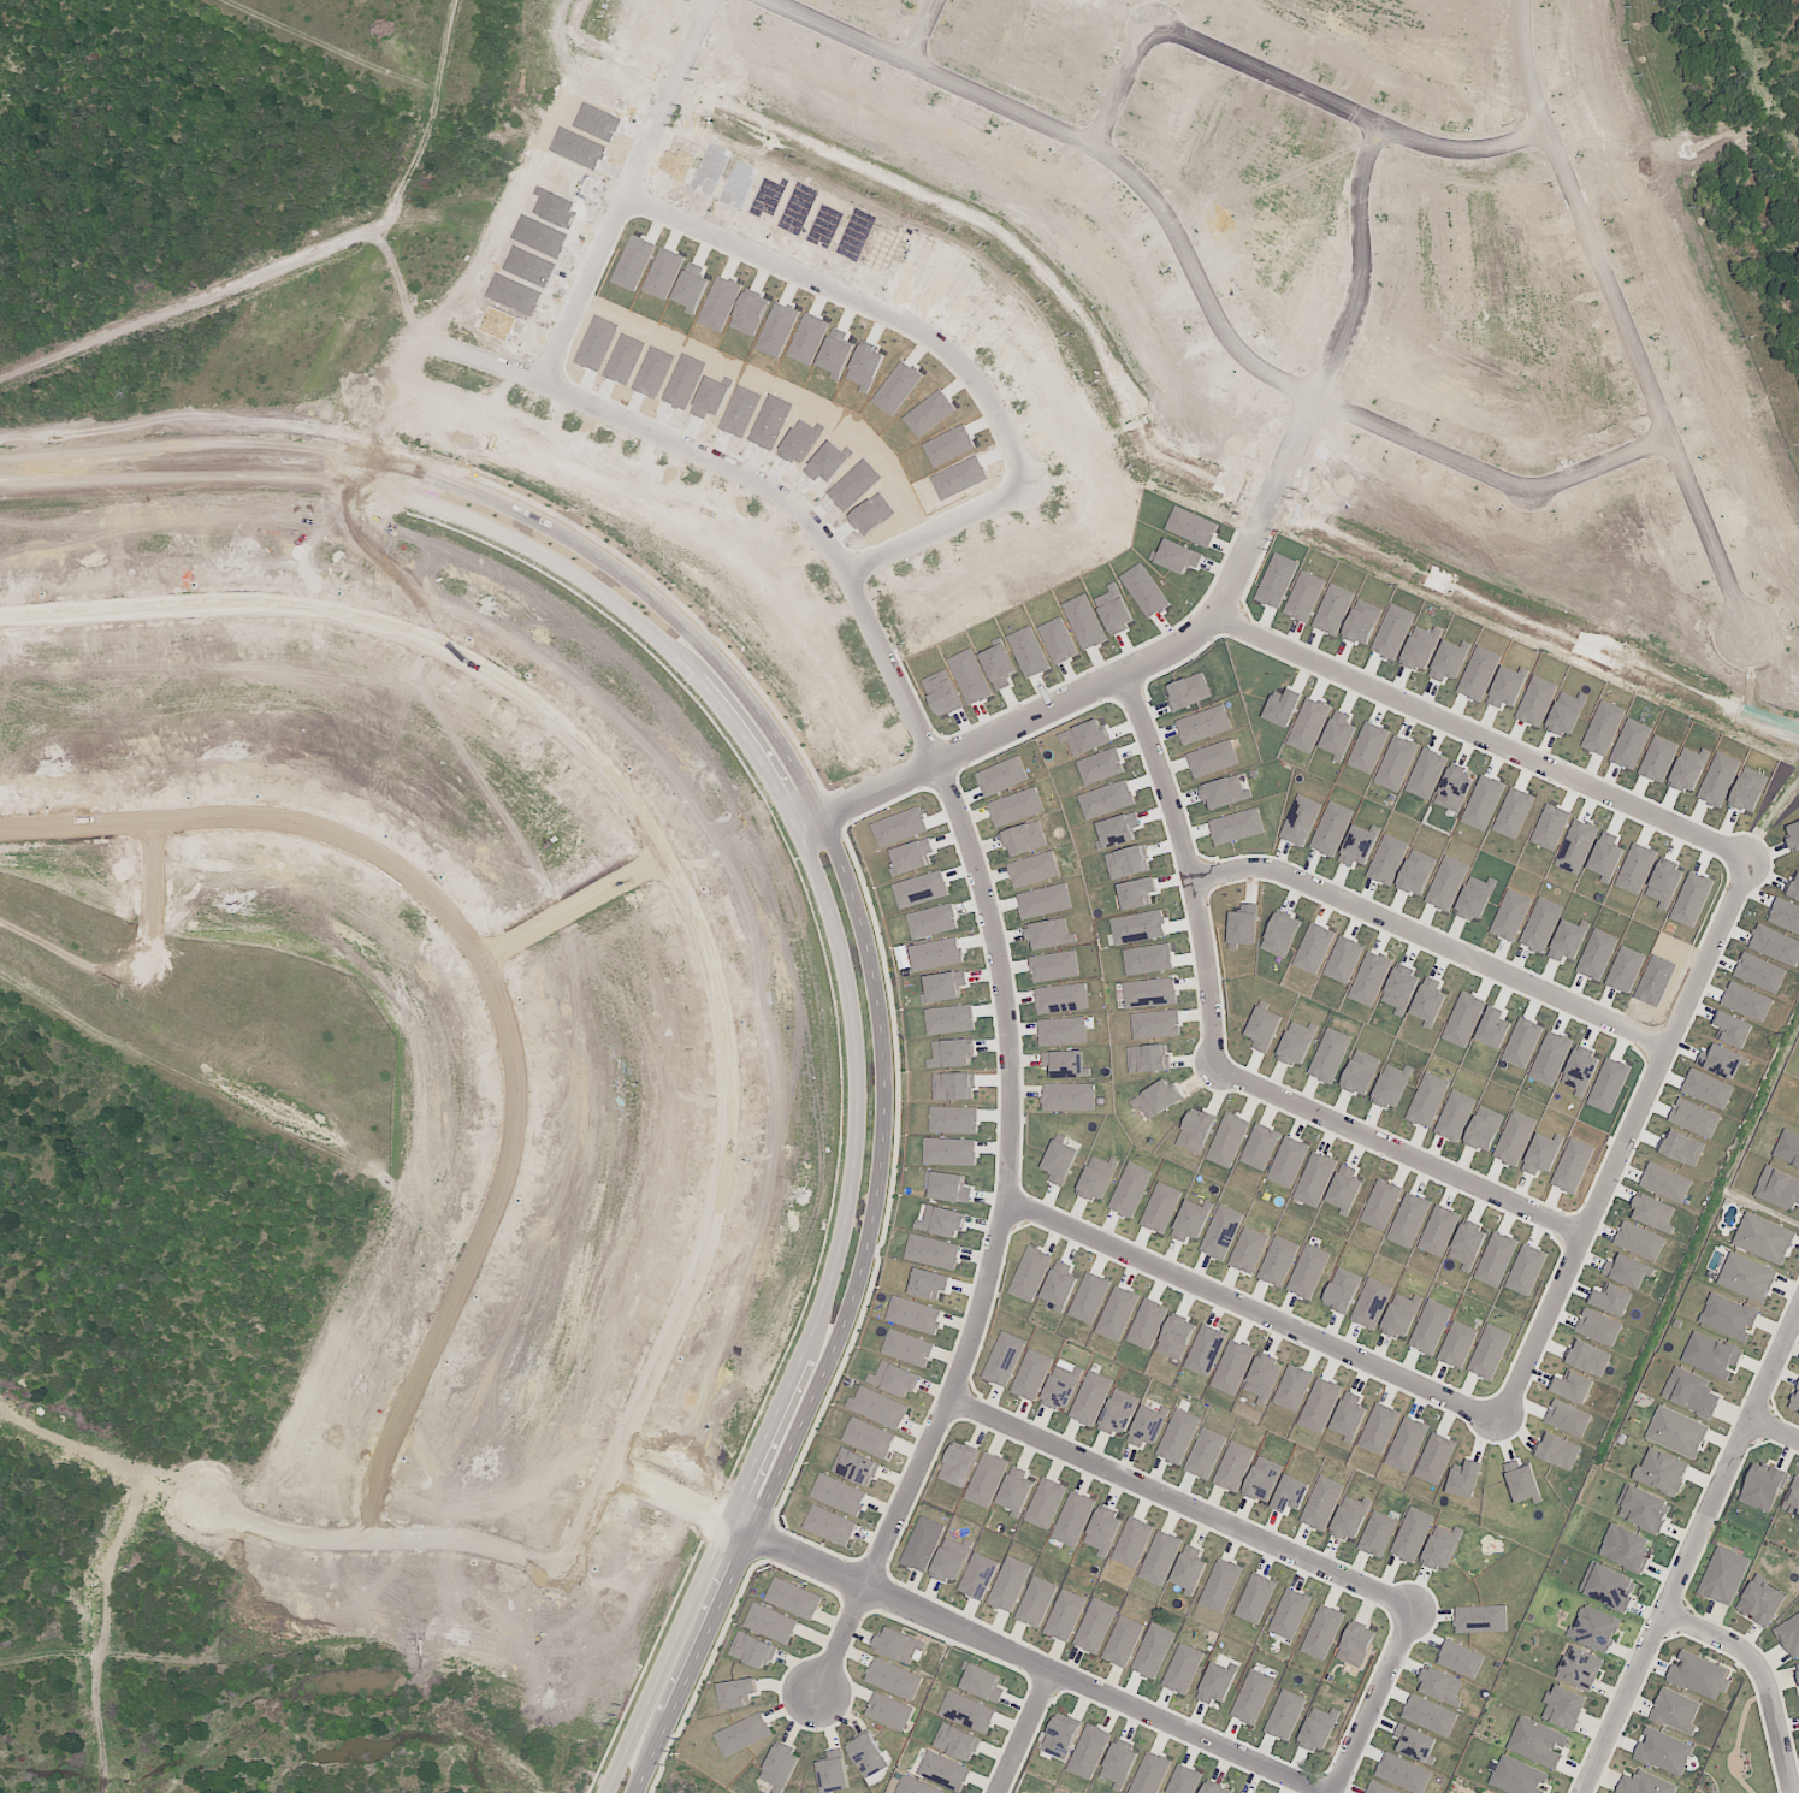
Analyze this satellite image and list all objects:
road: (179, 22)
road: (468, 24)
road: (12, 28)
road: (937, 34)
road: (1138, 90)
road: (1355, 117)
road: (172, 177)
road: (395, 183)
road: (644, 194)
road: (1217, 289)
road: (1634, 321)
road: (961, 359)
road: (485, 493)
road: (468, 520)
road: (1243, 603)
road: (916, 694)
road: (1495, 741)
road: (667, 852)
road: (1203, 874)
road: (566, 893)
road: (1443, 945)
road: (491, 995)
road: (217, 1036)
road: (101, 1055)
road: (1635, 1142)
building: (1788, 1148)
road: (1415, 1158)
building: (1777, 1188)
building: (1763, 1238)
building: (1747, 1277)
road: (229, 1280)
building: (915, 1315)
building: (1728, 1316)
road: (1270, 1318)
road: (862, 1321)
road: (829, 1327)
building: (907, 1347)
building: (1710, 1355)
building: (1004, 1359)
building: (1031, 1374)
building: (893, 1379)
building: (1061, 1386)
building: (1691, 1391)
building: (1090, 1398)
building: (1795, 1401)
building: (878, 1408)
building: (1118, 1412)
road: (1779, 1425)
building: (1147, 1426)
building: (1676, 1432)
building: (1177, 1436)
building: (869, 1438)
building: (1205, 1452)
building: (958, 1464)
building: (1233, 1466)
building: (856, 1467)
building: (1662, 1471)
building: (986, 1479)
building: (1262, 1479)
building: (1762, 1486)
building: (1016, 1490)
building: (1291, 1492)
road: (677, 1493)
building: (839, 1495)
building: (1793, 1497)
building: (1045, 1503)
building: (1321, 1503)
building: (1643, 1508)
road: (1199, 1511)
building: (1350, 1517)
building: (1072, 1519)
building: (829, 1525)
road: (268, 1527)
building: (1102, 1531)
building: (1377, 1533)
building: (1412, 1534)
building: (1449, 1534)
building: (1131, 1541)
building: (922, 1544)
building: (1625, 1548)
building: (1438, 1554)
building: (1159, 1558)
road: (1693, 1558)
building: (951, 1560)
building: (1189, 1568)
building: (977, 1575)
building: (1723, 1575)
building: (1008, 1584)
building: (1220, 1585)
building: (1608, 1586)
building: (793, 1598)
building: (1255, 1598)
building: (1035, 1602)
building: (1759, 1602)
building: (1289, 1614)
building: (1065, 1615)
building: (1481, 1619)
building: (770, 1622)
building: (1095, 1626)
building: (1594, 1628)
building: (1322, 1632)
building: (1788, 1634)
building: (1122, 1641)
building: (899, 1645)
building: (1355, 1645)
building: (752, 1650)
building: (1153, 1650)
building: (1461, 1658)
road: (1031, 1663)
building: (1580, 1667)
building: (1183, 1668)
road: (1768, 1669)
building: (1798, 1670)
building: (1699, 1675)
building: (894, 1679)
building: (983, 1682)
building: (1217, 1683)
building: (1440, 1686)
building: (736, 1692)
building: (1253, 1697)
road: (1390, 1705)
building: (1563, 1708)
building: (1675, 1710)
building: (888, 1711)
building: (967, 1711)
building: (1430, 1714)
building: (1285, 1715)
building: (1319, 1728)
building: (742, 1734)
road: (1042, 1736)
building: (1060, 1736)
building: (957, 1741)
building: (1538, 1742)
building: (1415, 1744)
building: (1088, 1751)
building: (1663, 1751)
building: (868, 1754)
building: (1119, 1763)
building: (780, 1767)
building: (943, 1770)
building: (833, 1771)
building: (1403, 1773)
building: (1150, 1774)
building: (1517, 1776)
building: (1183, 1780)
building: (1645, 1783)
building: (915, 1786)
building: (1379, 1788)
building: (1212, 1789)
building: (1019, 1792)
building: (1238, 1792)

